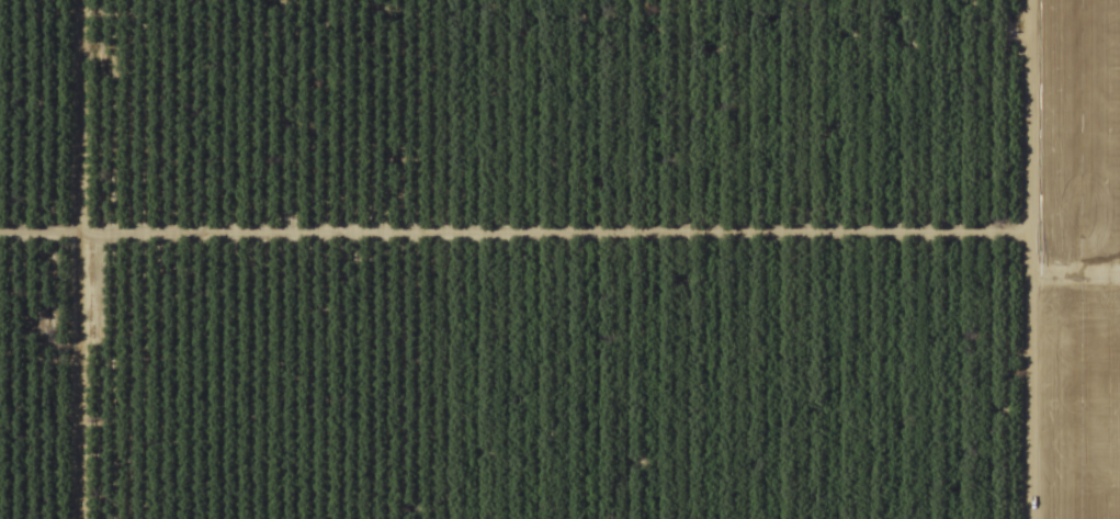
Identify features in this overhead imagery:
road: (1018, 259)

